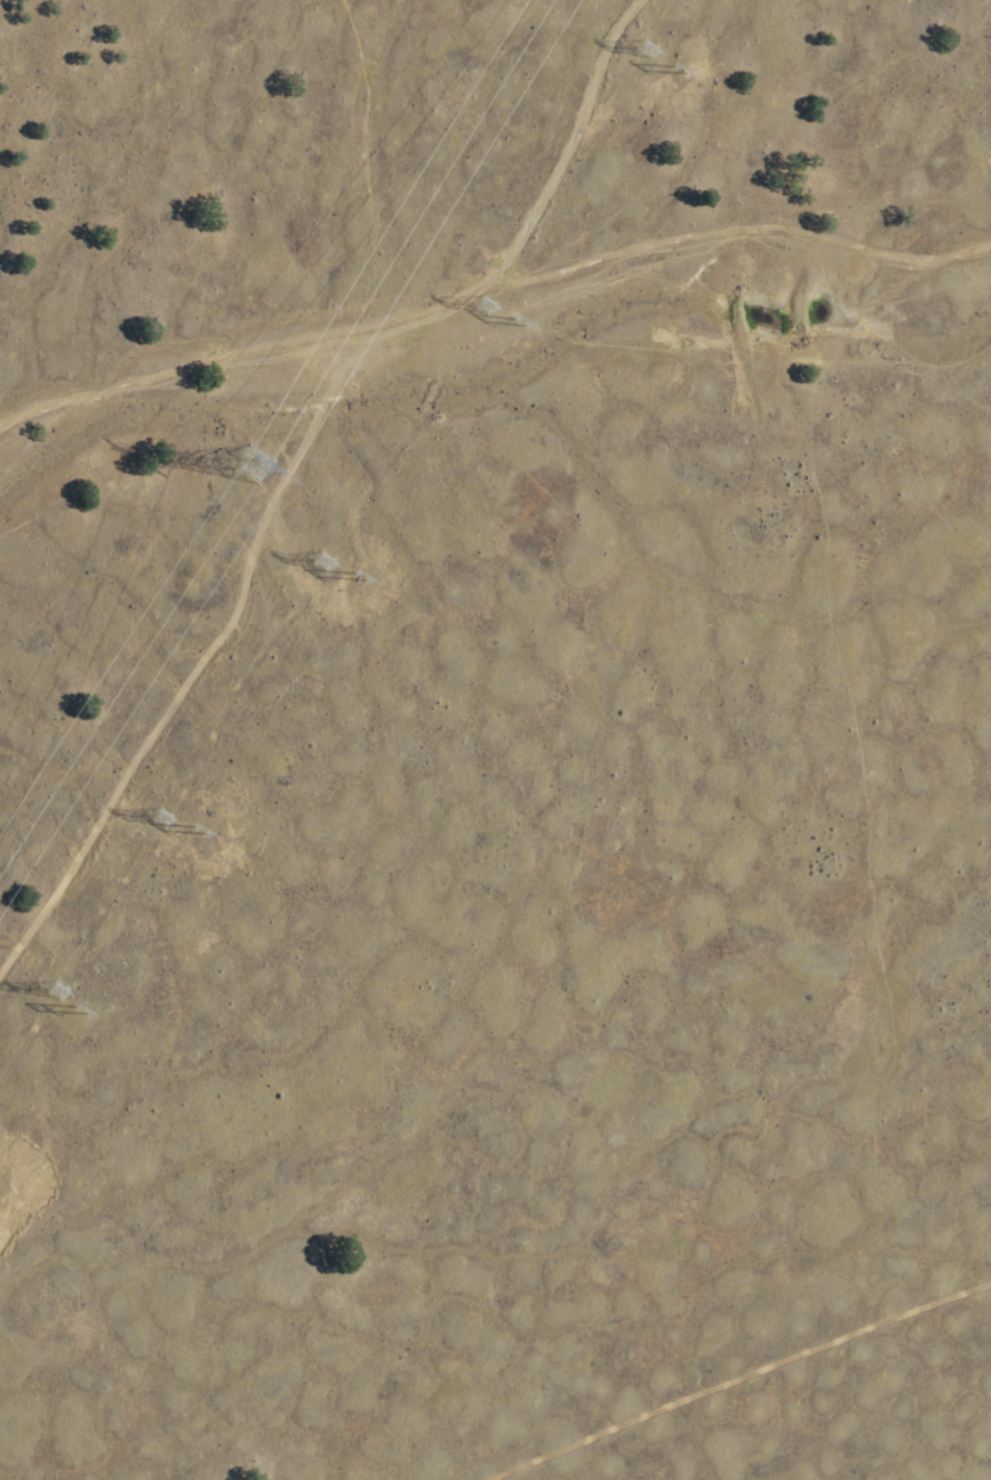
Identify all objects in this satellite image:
power tower: (639, 48)
power tower: (677, 68)
road: (571, 149)
road: (736, 227)
power tower: (481, 300)
power tower: (516, 318)
road: (240, 353)
power tower: (228, 454)
power tower: (319, 556)
power tower: (360, 574)
power tower: (154, 814)
power tower: (197, 828)
power tower: (51, 986)
power tower: (81, 1007)
road: (734, 1378)

